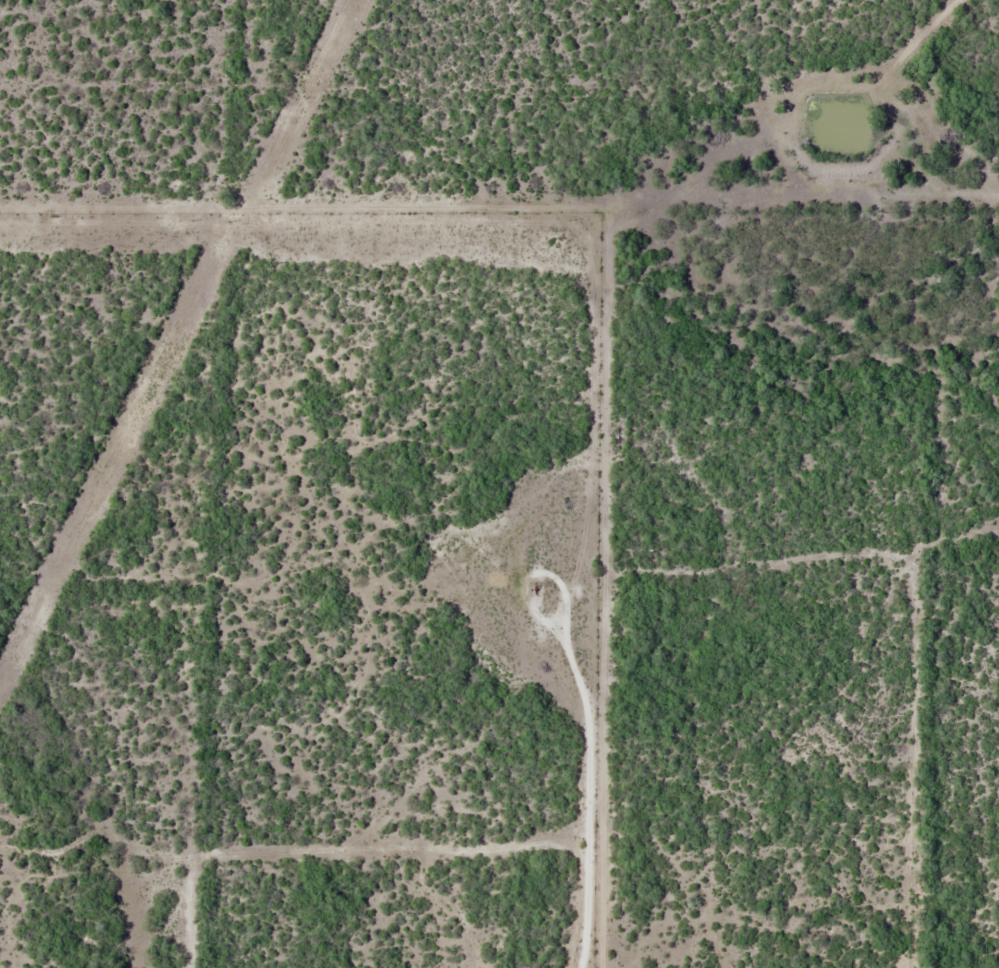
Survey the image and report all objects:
road: (586, 770)

